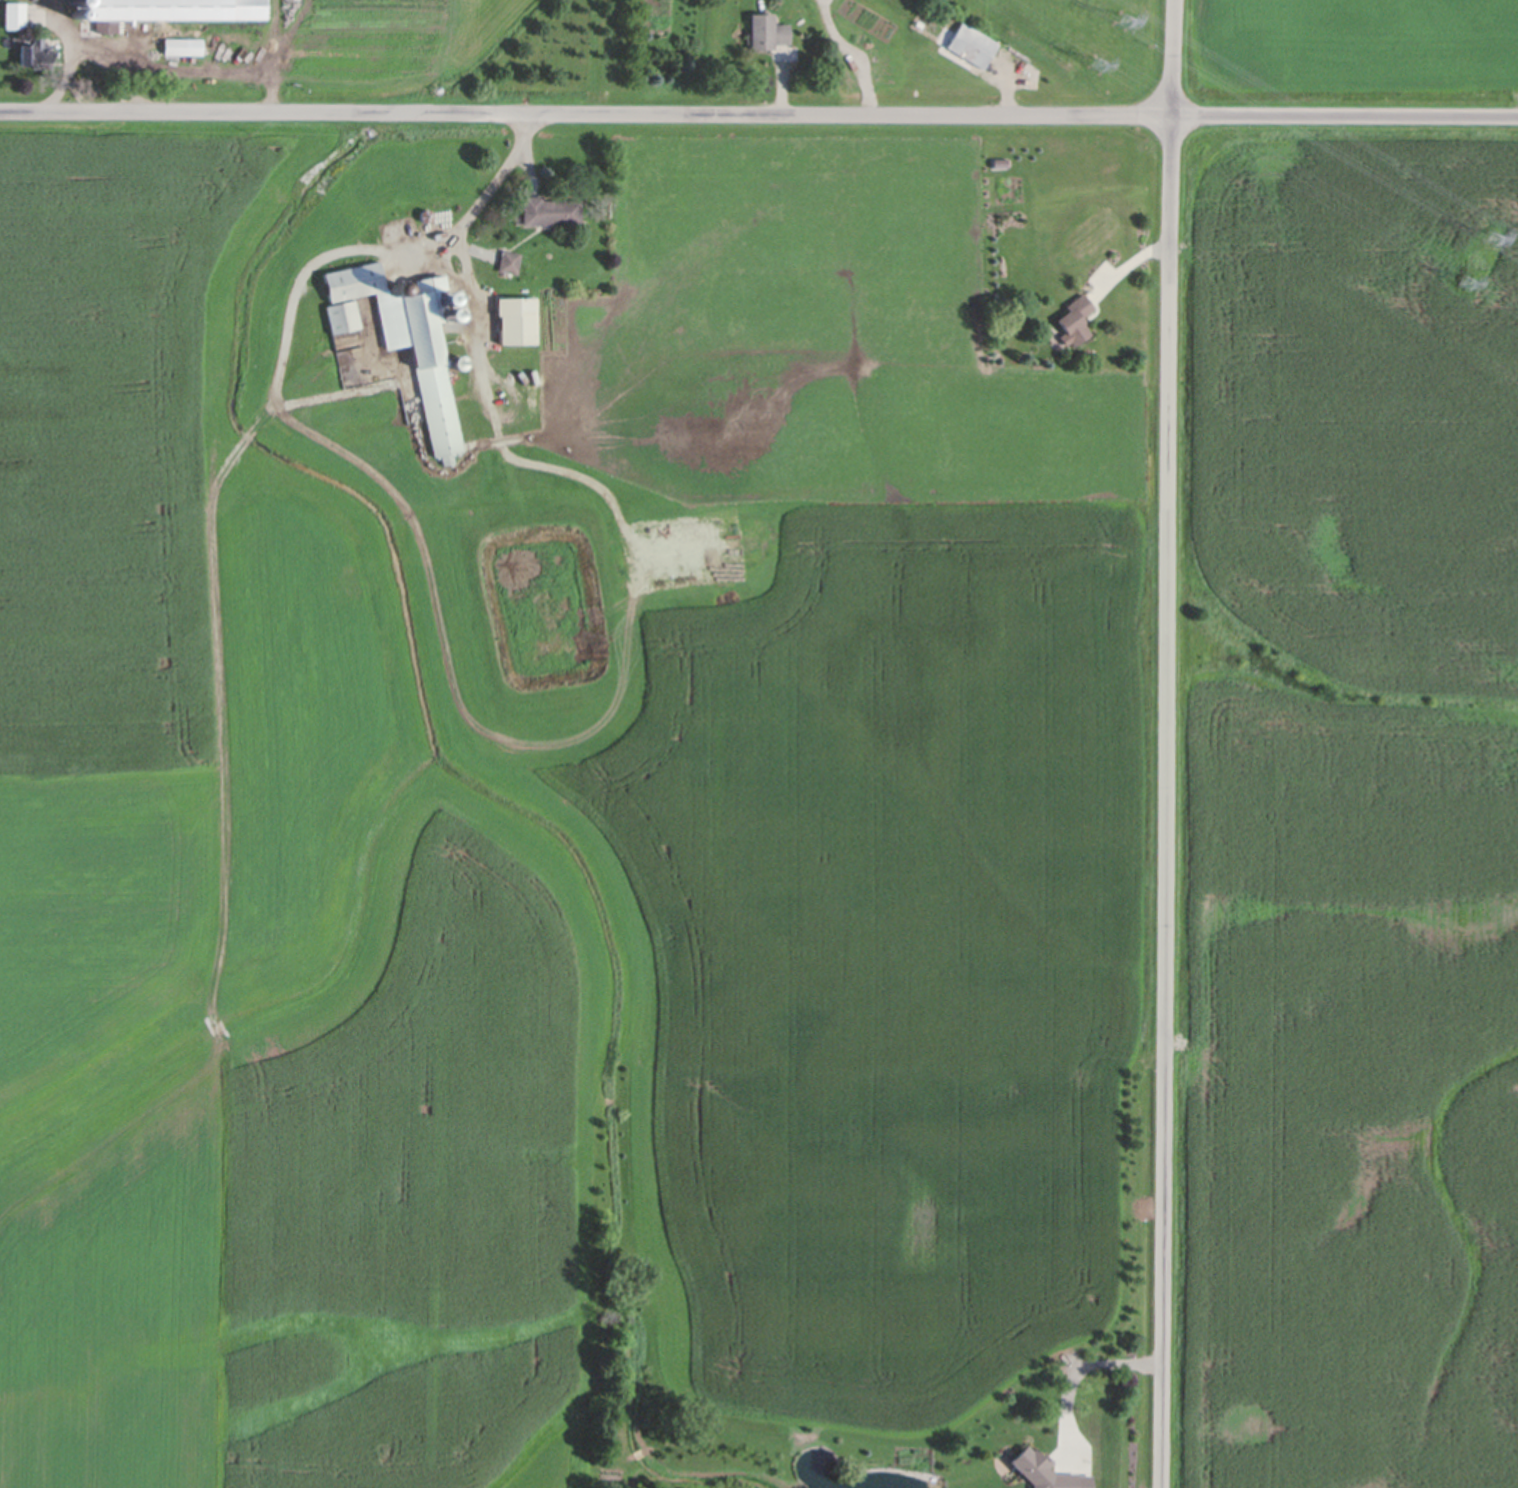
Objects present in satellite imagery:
building: (161, 8)
building: (16, 13)
power tower: (1120, 23)
building: (767, 28)
building: (971, 42)
building: (183, 43)
building: (37, 50)
road: (67, 55)
power tower: (1093, 65)
road: (186, 74)
road: (758, 116)
building: (550, 207)
building: (425, 214)
power tower: (1485, 239)
building: (509, 259)
power tower: (1459, 284)
building: (342, 313)
building: (517, 316)
building: (1075, 316)
building: (411, 336)
building: (457, 361)
road: (457, 679)
road: (1166, 743)
road: (1075, 1369)
building: (1042, 1470)

